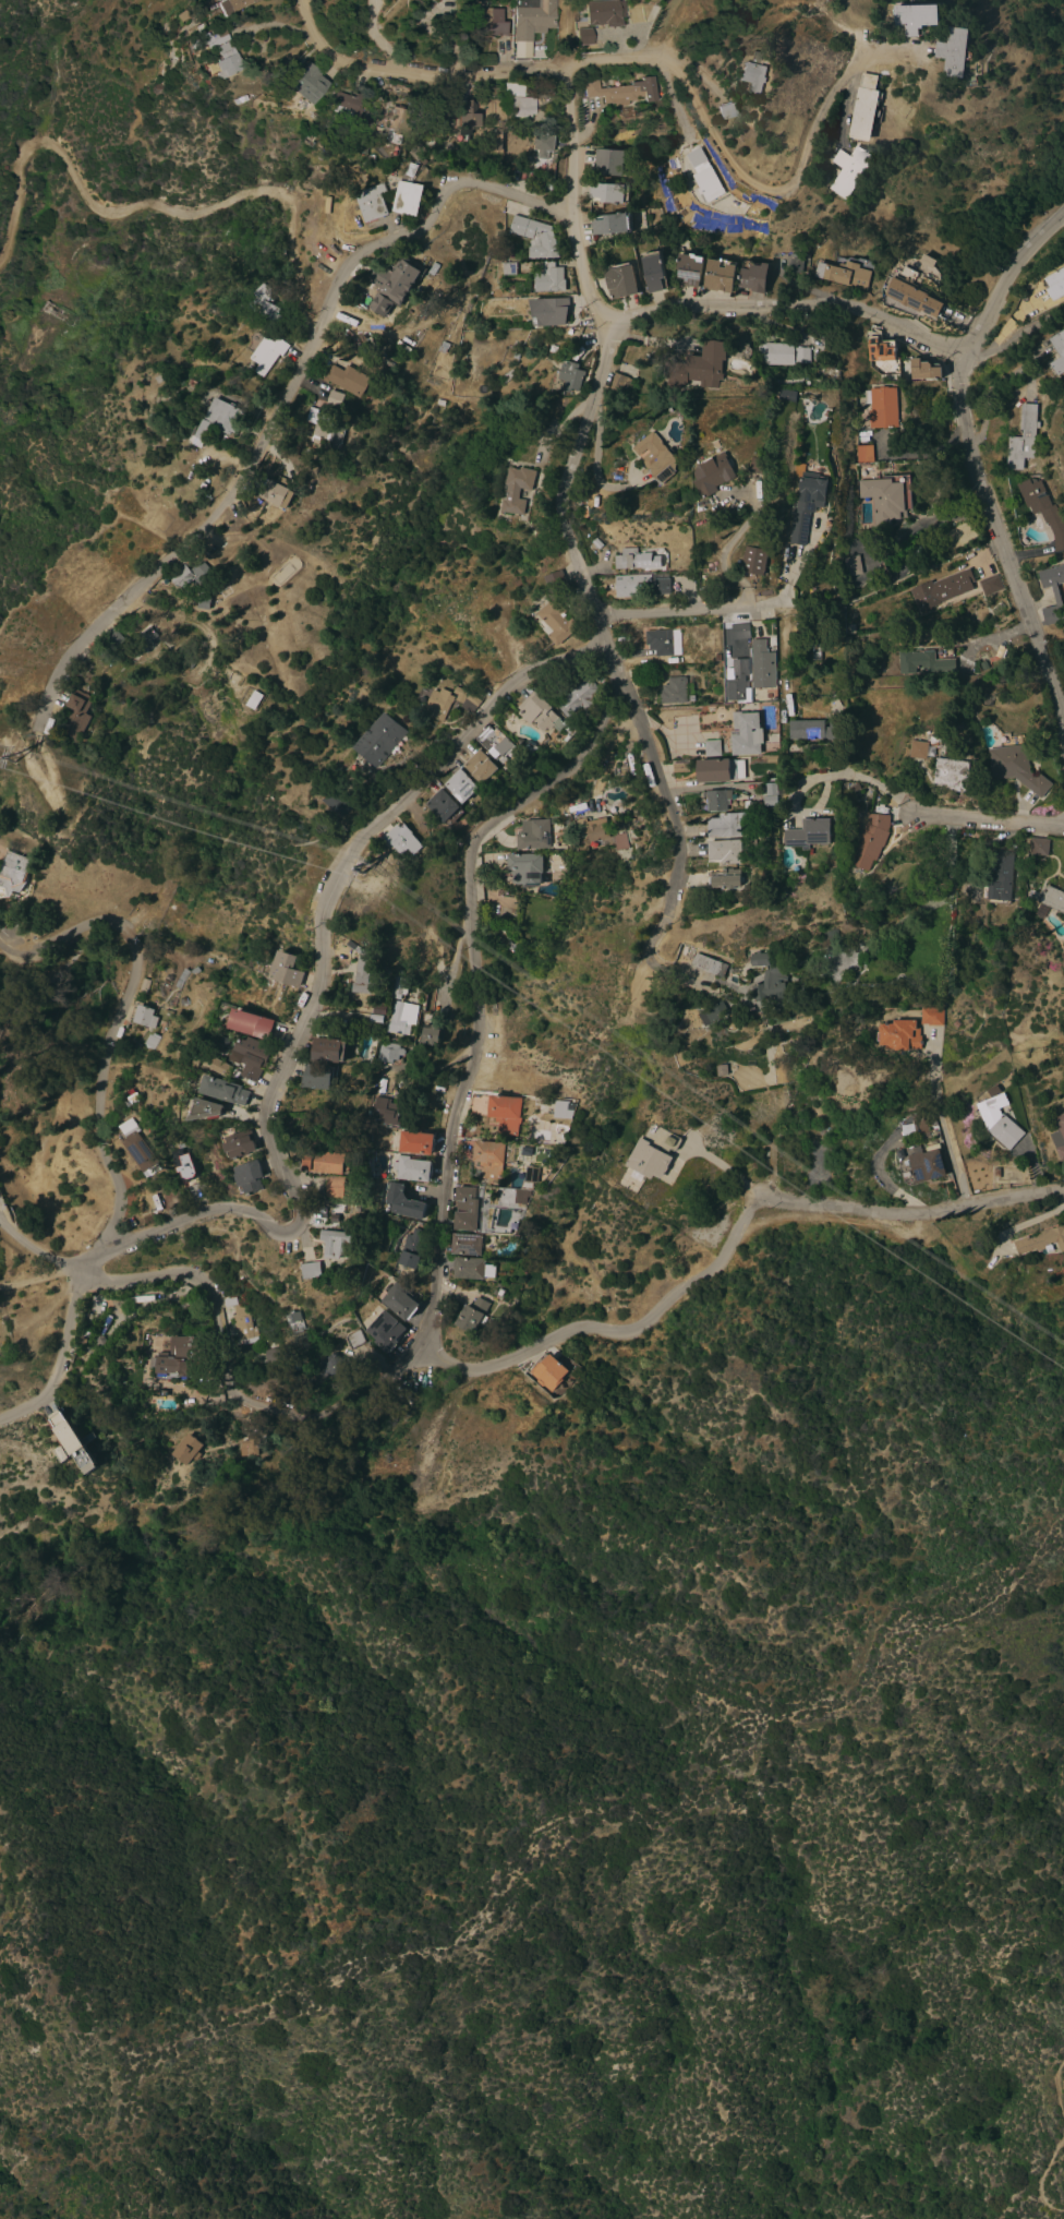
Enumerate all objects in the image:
building: (448, 0)
building: (229, 5)
road: (1053, 11)
building: (605, 12)
building: (532, 17)
building: (916, 17)
building: (487, 19)
building: (198, 27)
road: (274, 27)
road: (678, 29)
building: (584, 36)
building: (218, 37)
building: (955, 51)
building: (226, 60)
road: (666, 62)
building: (752, 75)
building: (306, 82)
building: (397, 91)
building: (621, 91)
road: (848, 99)
building: (519, 100)
building: (344, 105)
building: (863, 108)
building: (725, 110)
building: (363, 115)
building: (463, 119)
building: (394, 124)
building: (501, 128)
building: (498, 144)
building: (544, 145)
building: (421, 154)
building: (696, 157)
building: (608, 161)
building: (499, 164)
building: (847, 169)
road: (1024, 169)
building: (412, 170)
building: (709, 184)
building: (608, 193)
building: (408, 197)
building: (372, 202)
road: (135, 204)
road: (572, 215)
building: (612, 224)
building: (535, 237)
building: (794, 265)
building: (432, 268)
building: (689, 268)
building: (509, 269)
building: (652, 271)
building: (846, 273)
building: (718, 275)
building: (752, 276)
building: (548, 279)
building: (620, 280)
building: (1055, 284)
building: (391, 285)
building: (909, 292)
building: (264, 303)
road: (858, 309)
building: (547, 312)
road: (305, 320)
road: (1014, 338)
building: (443, 347)
building: (880, 349)
building: (515, 350)
building: (1057, 352)
building: (785, 353)
building: (265, 355)
building: (699, 367)
building: (924, 370)
building: (506, 375)
building: (570, 376)
building: (348, 380)
building: (618, 383)
building: (750, 384)
building: (787, 395)
building: (335, 398)
road: (280, 399)
building: (438, 403)
building: (319, 405)
building: (882, 407)
building: (407, 410)
building: (219, 420)
building: (434, 424)
building: (324, 425)
building: (436, 434)
building: (1021, 439)
building: (862, 454)
building: (656, 458)
building: (758, 465)
building: (714, 473)
building: (517, 489)
building: (276, 492)
building: (886, 496)
building: (806, 504)
building: (1042, 509)
road: (564, 525)
road: (920, 527)
building: (596, 543)
road: (1003, 543)
road: (720, 559)
building: (631, 560)
building: (752, 561)
building: (850, 565)
building: (191, 575)
building: (555, 580)
building: (989, 585)
building: (640, 586)
building: (941, 589)
building: (1051, 590)
building: (203, 602)
road: (690, 612)
building: (557, 621)
building: (739, 631)
building: (146, 637)
building: (116, 639)
building: (658, 641)
building: (814, 651)
building: (716, 657)
building: (921, 662)
building: (761, 664)
building: (982, 665)
building: (874, 670)
building: (737, 682)
building: (673, 691)
building: (578, 697)
building: (457, 698)
building: (253, 699)
building: (987, 700)
building: (438, 704)
building: (470, 704)
road: (1061, 711)
building: (77, 713)
building: (541, 713)
building: (814, 730)
building: (745, 733)
building: (379, 740)
building: (935, 740)
building: (495, 743)
building: (529, 747)
building: (712, 748)
building: (919, 749)
building: (771, 759)
power tower: (31, 763)
building: (680, 767)
building: (481, 768)
building: (1016, 768)
building: (720, 770)
building: (952, 773)
road: (814, 776)
building: (773, 779)
building: (461, 785)
road: (711, 785)
building: (855, 788)
building: (771, 789)
road: (663, 793)
building: (716, 800)
building: (770, 801)
building: (337, 802)
building: (752, 805)
building: (444, 807)
road: (981, 818)
building: (724, 825)
building: (597, 832)
building: (809, 833)
building: (534, 835)
building: (871, 839)
building: (402, 840)
building: (1039, 847)
building: (726, 851)
building: (525, 868)
power tower: (374, 874)
building: (14, 875)
building: (1000, 876)
building: (725, 878)
building: (1052, 899)
building: (967, 908)
road: (910, 913)
building: (829, 937)
road: (9, 944)
building: (355, 948)
building: (708, 964)
building: (287, 970)
building: (193, 971)
building: (767, 976)
building: (363, 977)
building: (180, 979)
building: (847, 982)
building: (143, 986)
building: (400, 987)
building: (379, 1010)
building: (711, 1013)
building: (143, 1016)
building: (931, 1017)
building: (375, 1018)
building: (402, 1018)
building: (252, 1023)
building: (430, 1035)
building: (899, 1035)
road: (108, 1036)
building: (150, 1041)
building: (328, 1049)
building: (389, 1052)
building: (252, 1056)
building: (221, 1067)
building: (720, 1070)
road: (475, 1075)
building: (317, 1076)
road: (278, 1080)
building: (1014, 1089)
building: (226, 1090)
building: (206, 1109)
building: (561, 1109)
building: (386, 1111)
building: (506, 1114)
building: (999, 1122)
road: (941, 1123)
building: (920, 1126)
building: (1059, 1136)
building: (558, 1137)
building: (415, 1142)
building: (240, 1144)
building: (135, 1147)
building: (653, 1153)
building: (491, 1158)
building: (902, 1160)
building: (325, 1162)
road: (714, 1162)
building: (927, 1165)
building: (186, 1168)
building: (413, 1168)
building: (533, 1174)
building: (249, 1177)
building: (630, 1179)
building: (335, 1187)
building: (523, 1196)
building: (401, 1202)
building: (465, 1209)
road: (908, 1212)
building: (515, 1224)
building: (493, 1239)
building: (1041, 1240)
building: (336, 1244)
building: (467, 1244)
building: (411, 1248)
building: (312, 1269)
building: (473, 1269)
building: (499, 1292)
road: (669, 1297)
building: (399, 1302)
building: (473, 1315)
building: (294, 1321)
building: (241, 1322)
building: (385, 1331)
road: (217, 1334)
building: (354, 1339)
building: (186, 1347)
building: (271, 1354)
building: (334, 1365)
building: (170, 1367)
building: (547, 1371)
building: (73, 1442)
building: (252, 1446)
building: (186, 1449)
road: (1060, 2087)
road: (1047, 2183)

